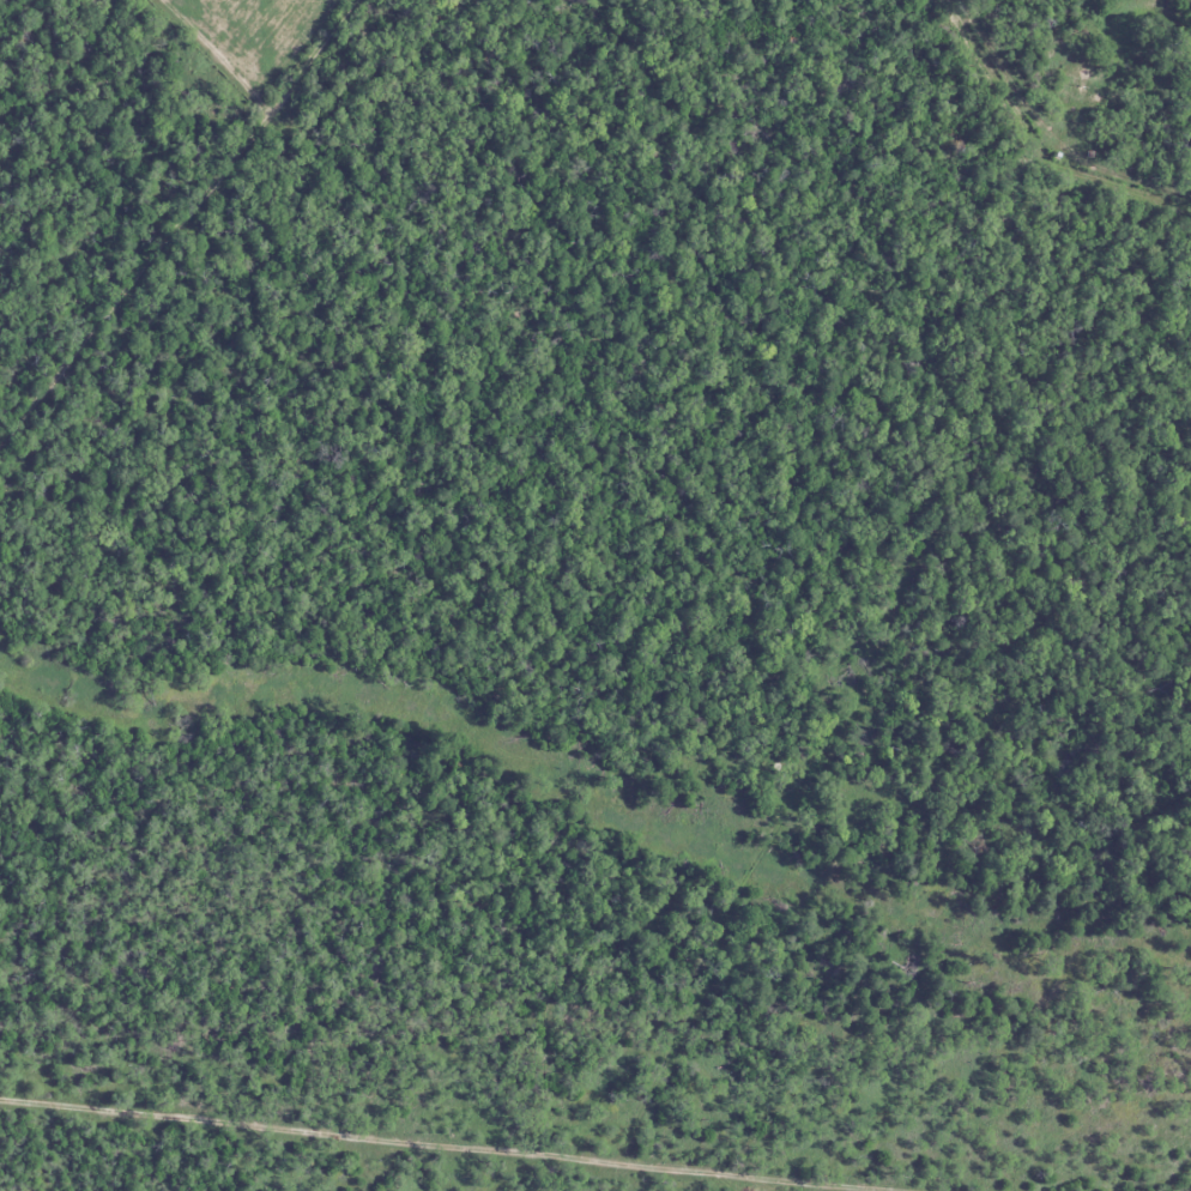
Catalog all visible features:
road: (186, 1173)

